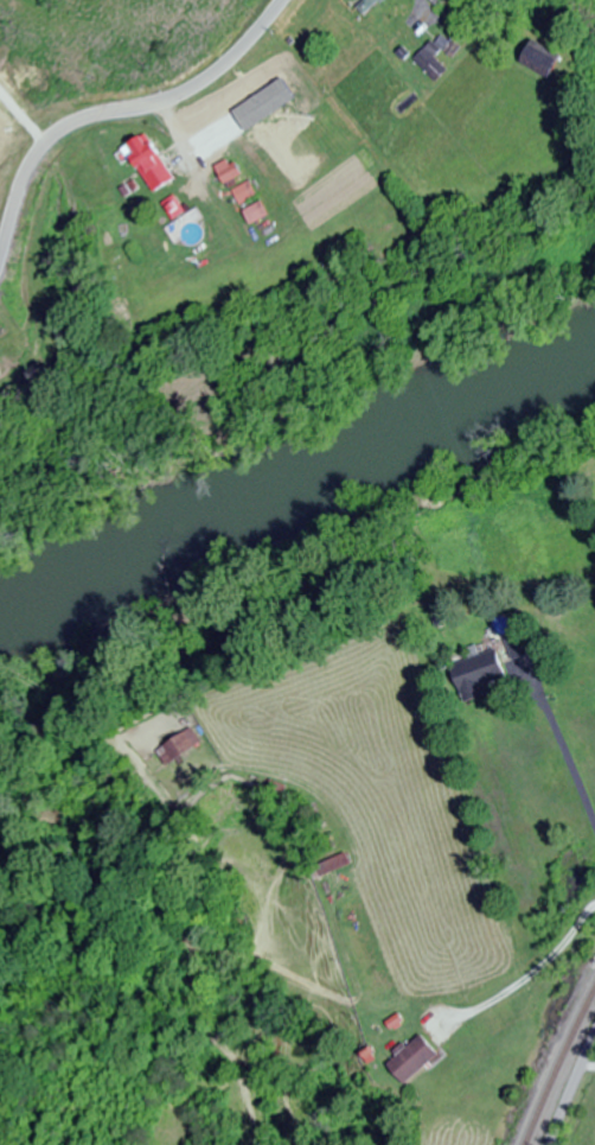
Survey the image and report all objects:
building: (366, 4)
building: (436, 57)
building: (540, 58)
road: (114, 110)
building: (147, 160)
building: (249, 202)
river: (297, 471)
building: (517, 644)
building: (475, 675)
building: (178, 746)
road: (565, 764)
building: (332, 866)
road: (527, 966)
building: (410, 1060)
railway: (559, 1063)
road: (570, 1088)

